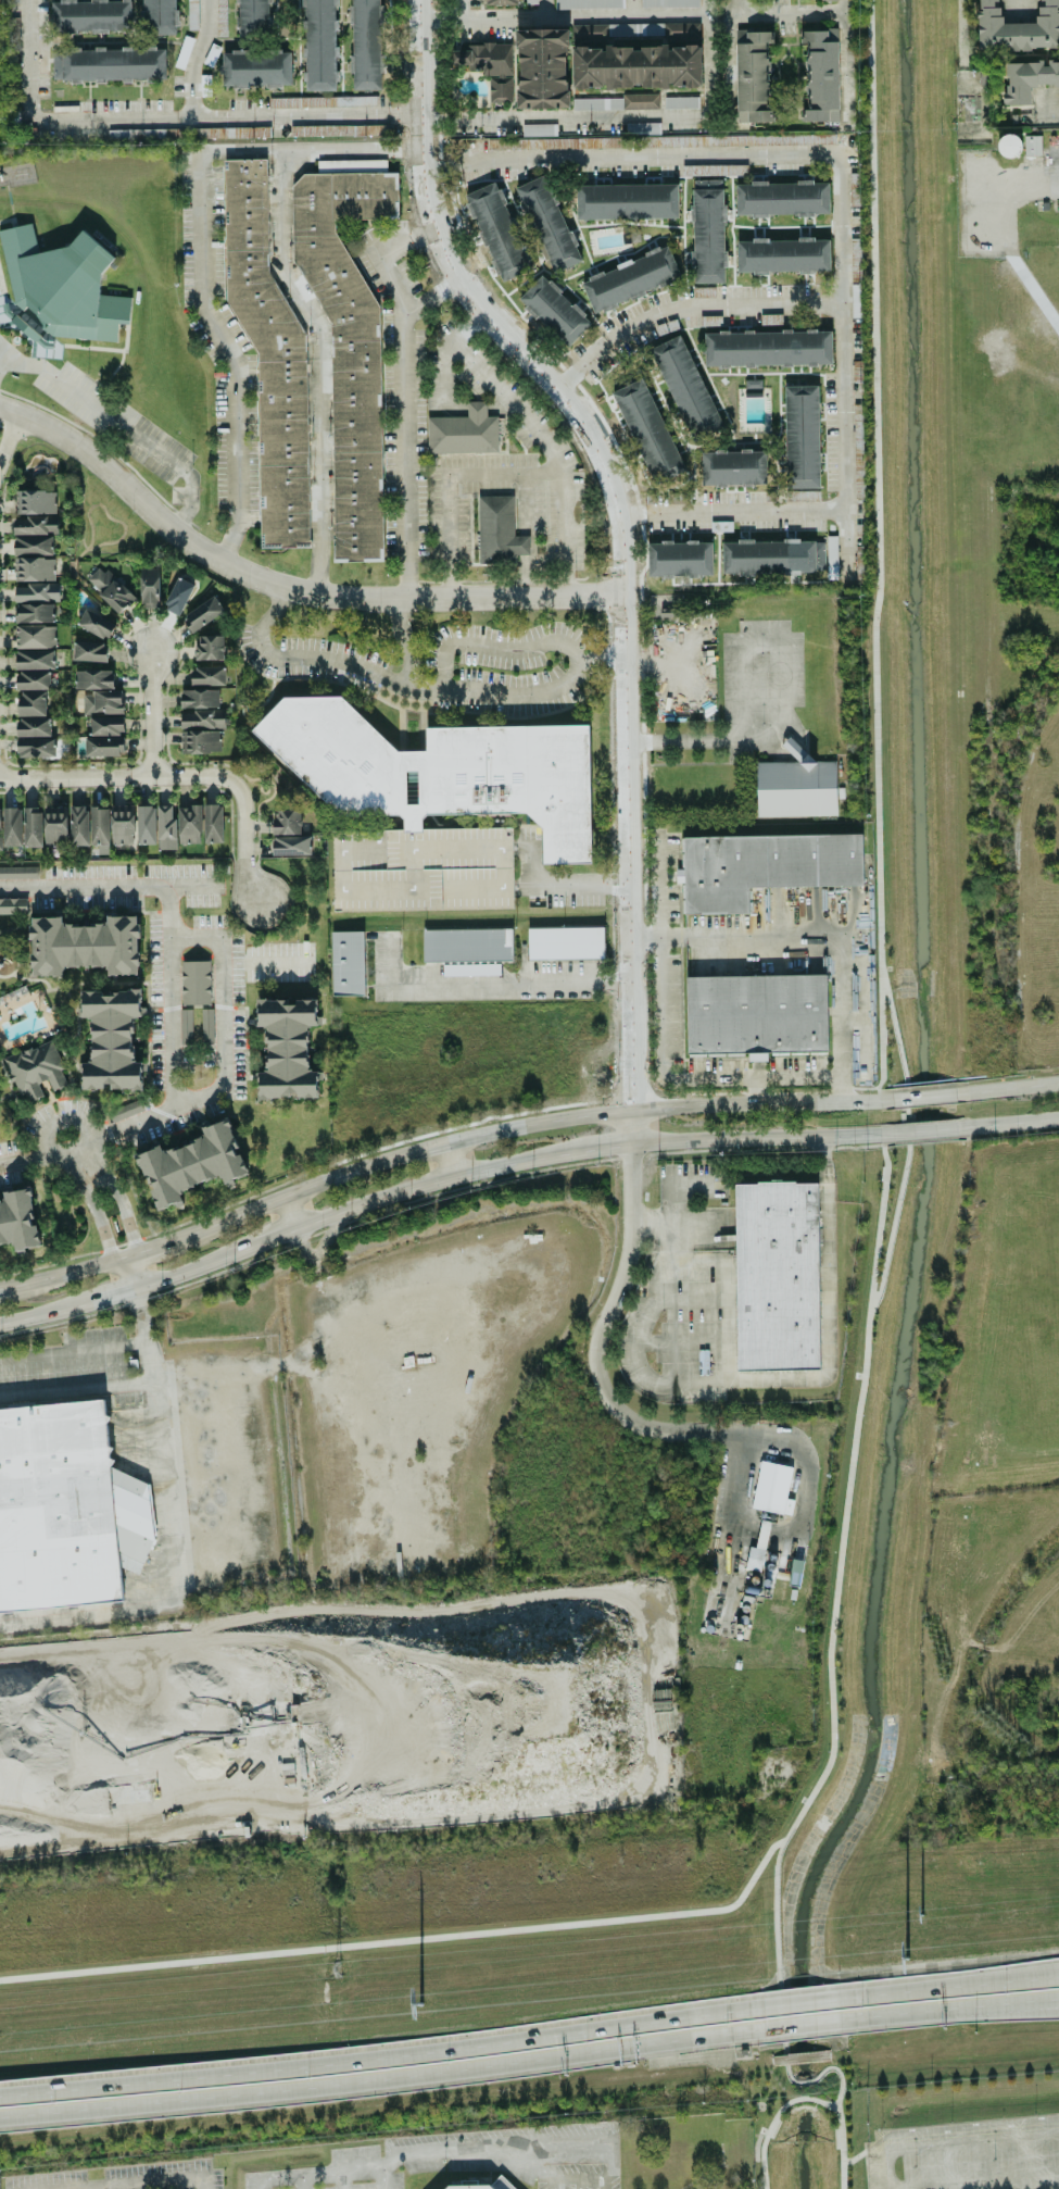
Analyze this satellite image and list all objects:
building: (530, 1)
building: (501, 2)
building: (588, 3)
building: (668, 3)
road: (734, 5)
road: (542, 10)
road: (630, 10)
road: (707, 10)
road: (459, 11)
road: (733, 11)
building: (90, 15)
building: (157, 16)
building: (220, 16)
building: (253, 17)
road: (720, 18)
road: (564, 20)
building: (1017, 27)
road: (961, 28)
building: (615, 30)
building: (682, 30)
building: (365, 43)
building: (319, 45)
road: (198, 58)
road: (849, 61)
building: (111, 64)
building: (488, 66)
building: (636, 66)
building: (256, 68)
building: (542, 68)
building: (820, 75)
building: (753, 76)
building: (1028, 79)
building: (640, 101)
building: (681, 102)
building: (596, 103)
road: (609, 113)
road: (1045, 115)
road: (154, 116)
road: (405, 116)
building: (642, 128)
building: (538, 129)
building: (342, 130)
building: (640, 142)
building: (1032, 145)
building: (1008, 146)
road: (468, 151)
building: (351, 165)
building: (716, 170)
road: (1038, 182)
building: (782, 198)
building: (627, 201)
building: (547, 224)
building: (707, 230)
building: (497, 232)
building: (782, 255)
building: (855, 257)
building: (630, 279)
building: (58, 292)
road: (434, 298)
building: (856, 300)
road: (691, 302)
building: (554, 310)
building: (348, 346)
building: (767, 348)
building: (268, 358)
road: (320, 368)
building: (685, 387)
road: (121, 426)
building: (647, 430)
building: (463, 431)
road: (534, 435)
road: (8, 437)
building: (800, 437)
road: (408, 438)
building: (733, 467)
road: (449, 480)
building: (36, 502)
building: (35, 525)
road: (620, 525)
building: (497, 530)
building: (33, 546)
building: (772, 556)
building: (831, 558)
building: (679, 559)
building: (34, 568)
road: (287, 585)
building: (150, 587)
building: (110, 589)
building: (37, 592)
building: (178, 596)
building: (34, 612)
building: (202, 614)
building: (94, 624)
building: (35, 636)
road: (880, 640)
building: (210, 647)
building: (89, 651)
building: (35, 660)
building: (209, 675)
building: (93, 678)
building: (29, 680)
road: (576, 684)
road: (777, 692)
building: (200, 698)
building: (101, 702)
building: (30, 703)
road: (148, 710)
building: (203, 718)
building: (105, 725)
building: (33, 727)
building: (200, 741)
building: (104, 746)
building: (36, 748)
road: (118, 777)
building: (796, 787)
building: (434, 802)
building: (286, 822)
building: (213, 823)
building: (123, 824)
building: (189, 824)
building: (78, 825)
building: (99, 825)
building: (146, 825)
building: (12, 826)
building: (31, 826)
building: (56, 827)
building: (166, 827)
building: (0, 834)
road: (244, 843)
building: (291, 845)
building: (764, 867)
building: (17, 872)
road: (192, 884)
road: (556, 891)
building: (12, 905)
road: (654, 933)
road: (759, 935)
road: (168, 942)
building: (565, 943)
building: (467, 945)
building: (85, 946)
road: (265, 963)
building: (346, 963)
building: (470, 968)
building: (196, 983)
road: (510, 984)
building: (755, 1015)
road: (225, 1018)
road: (841, 1018)
building: (206, 1025)
building: (111, 1039)
road: (675, 1041)
road: (881, 1043)
building: (287, 1048)
building: (36, 1070)
road: (784, 1076)
road: (1011, 1087)
road: (928, 1096)
road: (812, 1102)
road: (684, 1109)
road: (1007, 1122)
road: (632, 1128)
road: (916, 1130)
road: (754, 1137)
road: (70, 1149)
road: (395, 1156)
road: (447, 1160)
road: (11, 1162)
building: (192, 1164)
road: (118, 1194)
road: (92, 1204)
road: (291, 1211)
building: (18, 1219)
road: (312, 1221)
road: (665, 1224)
road: (147, 1247)
road: (123, 1253)
road: (68, 1268)
road: (129, 1272)
building: (777, 1276)
road: (7, 1281)
road: (647, 1315)
road: (103, 1346)
road: (596, 1369)
road: (824, 1460)
building: (772, 1488)
building: (66, 1510)
road: (176, 1561)
road: (840, 1704)
power tower: (920, 1915)
road: (386, 1926)
power tower: (904, 1957)
power tower: (338, 1972)
road: (949, 1986)
road: (1044, 2002)
road: (798, 2003)
road: (1044, 2003)
power tower: (418, 2004)
road: (935, 2014)
road: (799, 2028)
road: (378, 2053)
road: (380, 2084)
railway: (529, 2099)
road: (774, 2118)
road: (946, 2128)
road: (971, 2139)
road: (578, 2141)
road: (440, 2152)
parking lot: (966, 2153)
road: (884, 2167)
road: (295, 2176)
road: (378, 2179)
road: (972, 2179)
road: (580, 2180)
road: (135, 2182)
road: (300, 2182)
road: (201, 2184)
building: (486, 2185)
road: (552, 2185)
road: (577, 2185)
road: (92, 2188)

